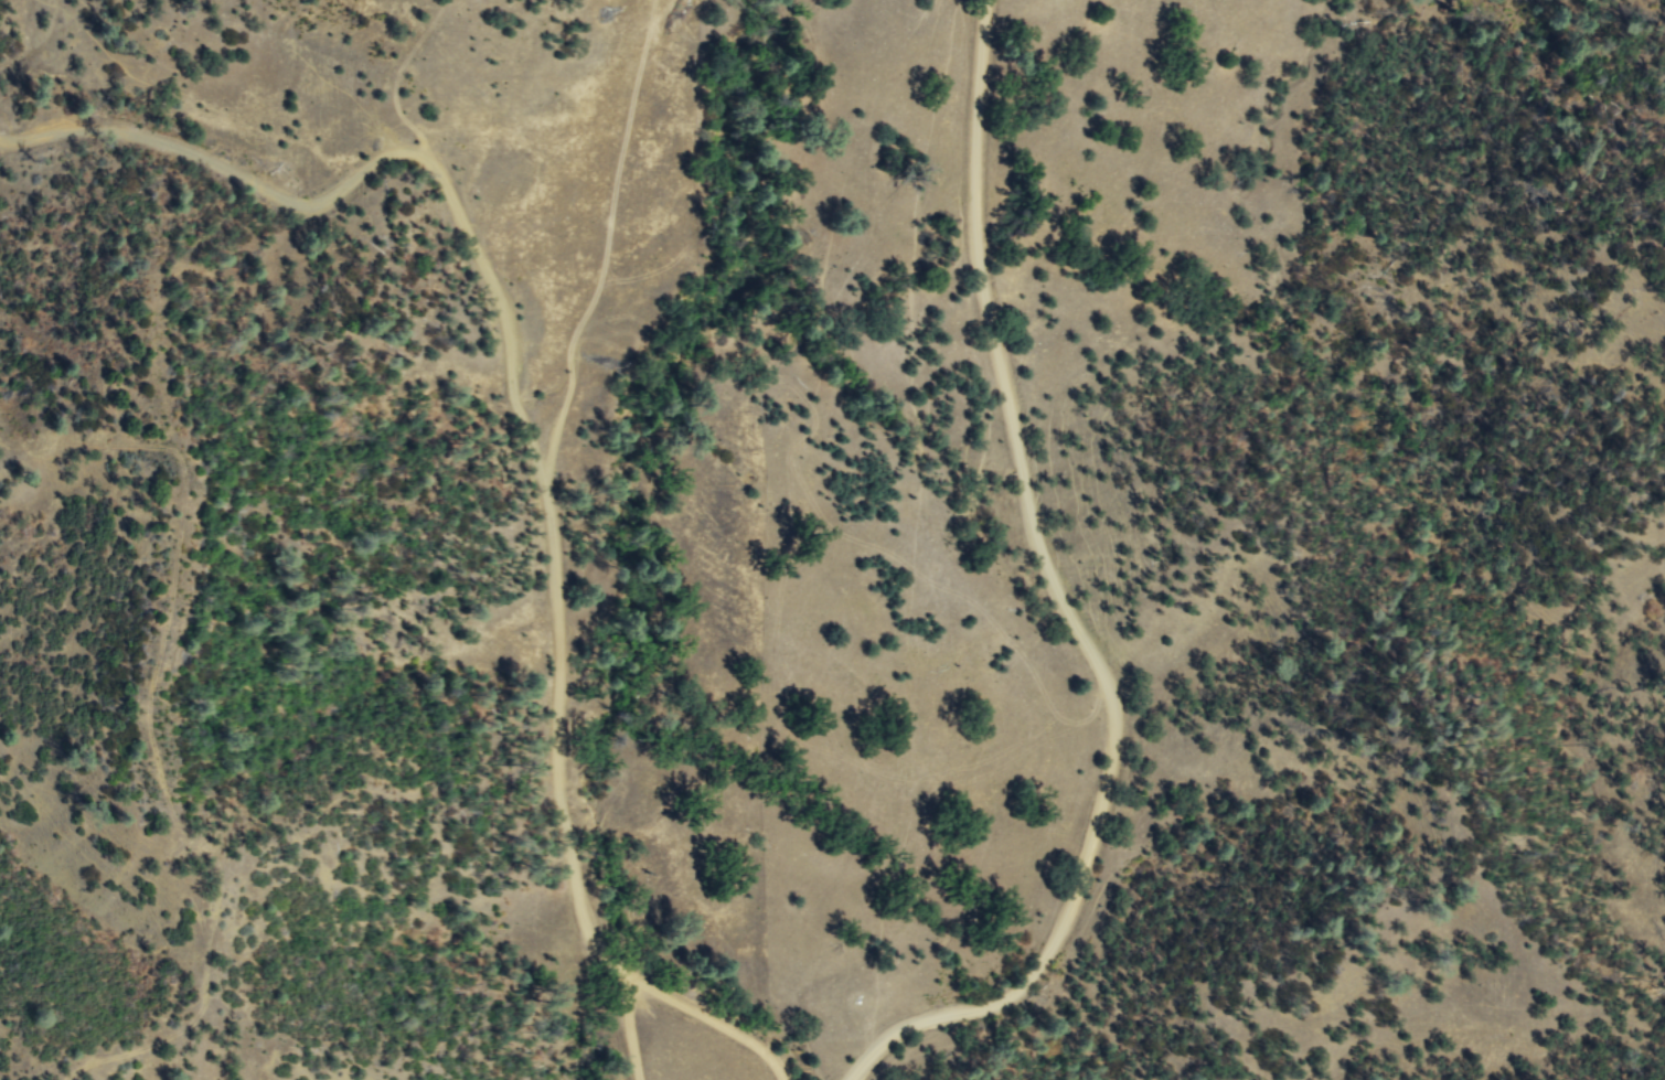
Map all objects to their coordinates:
road: (552, 437)
road: (1080, 603)

